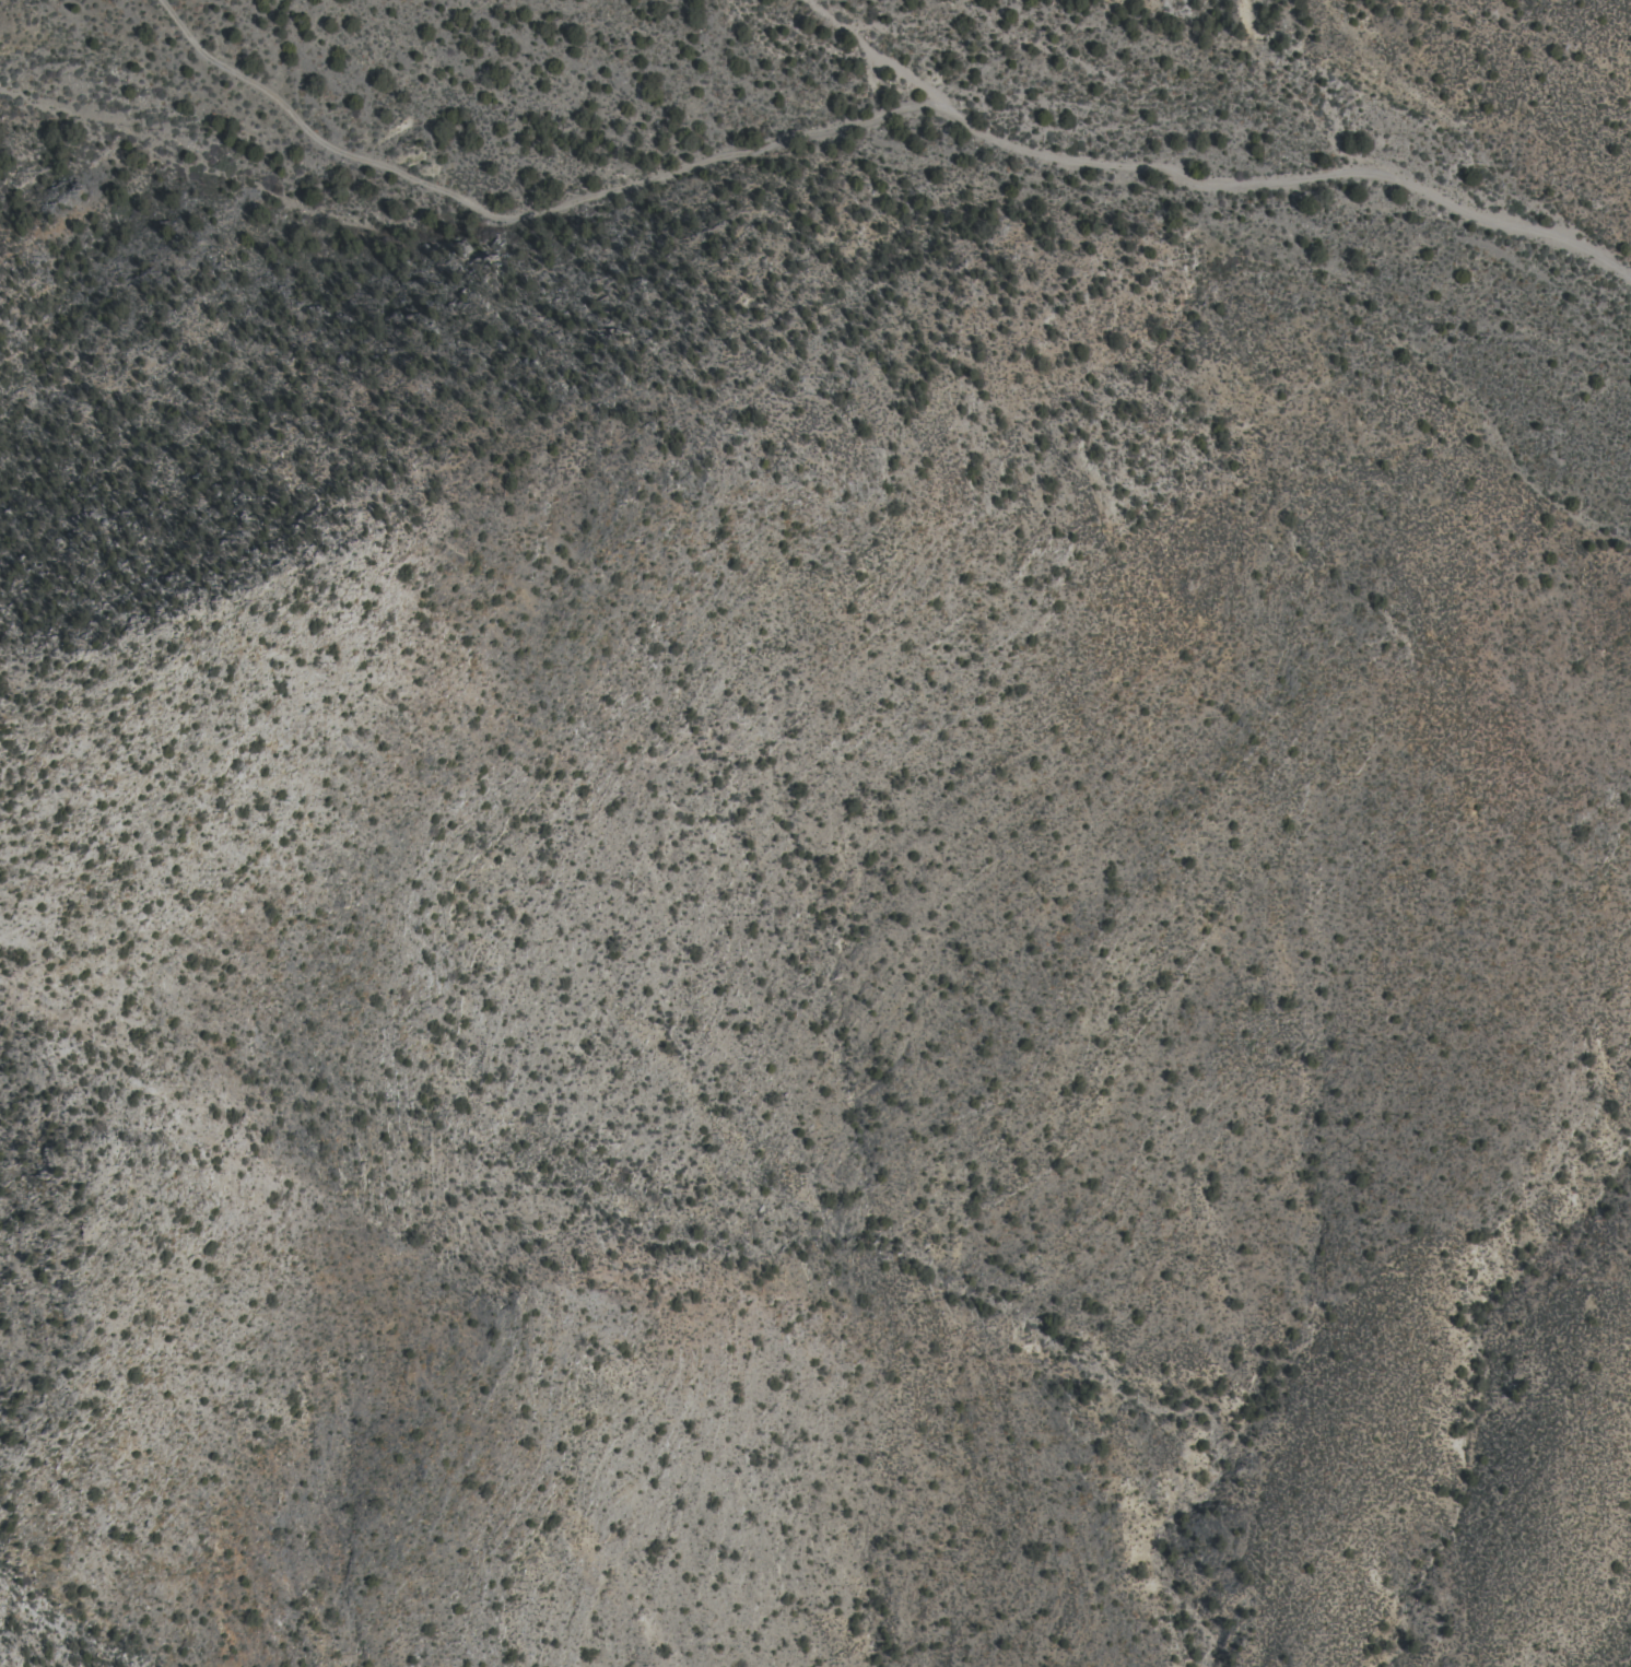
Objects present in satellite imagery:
road: (772, 238)

